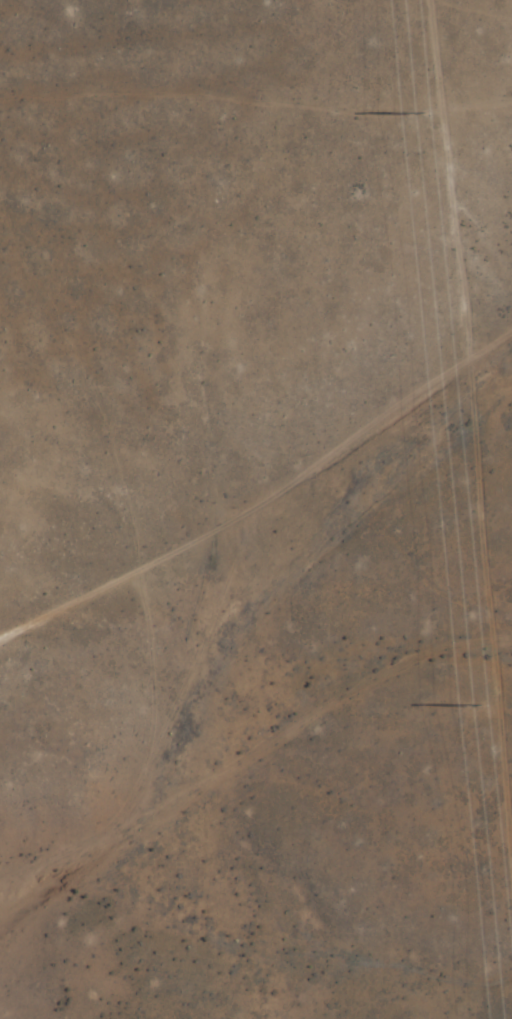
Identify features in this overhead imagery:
power tower: (420, 117)
road: (266, 502)
road: (464, 509)
power tower: (475, 705)

